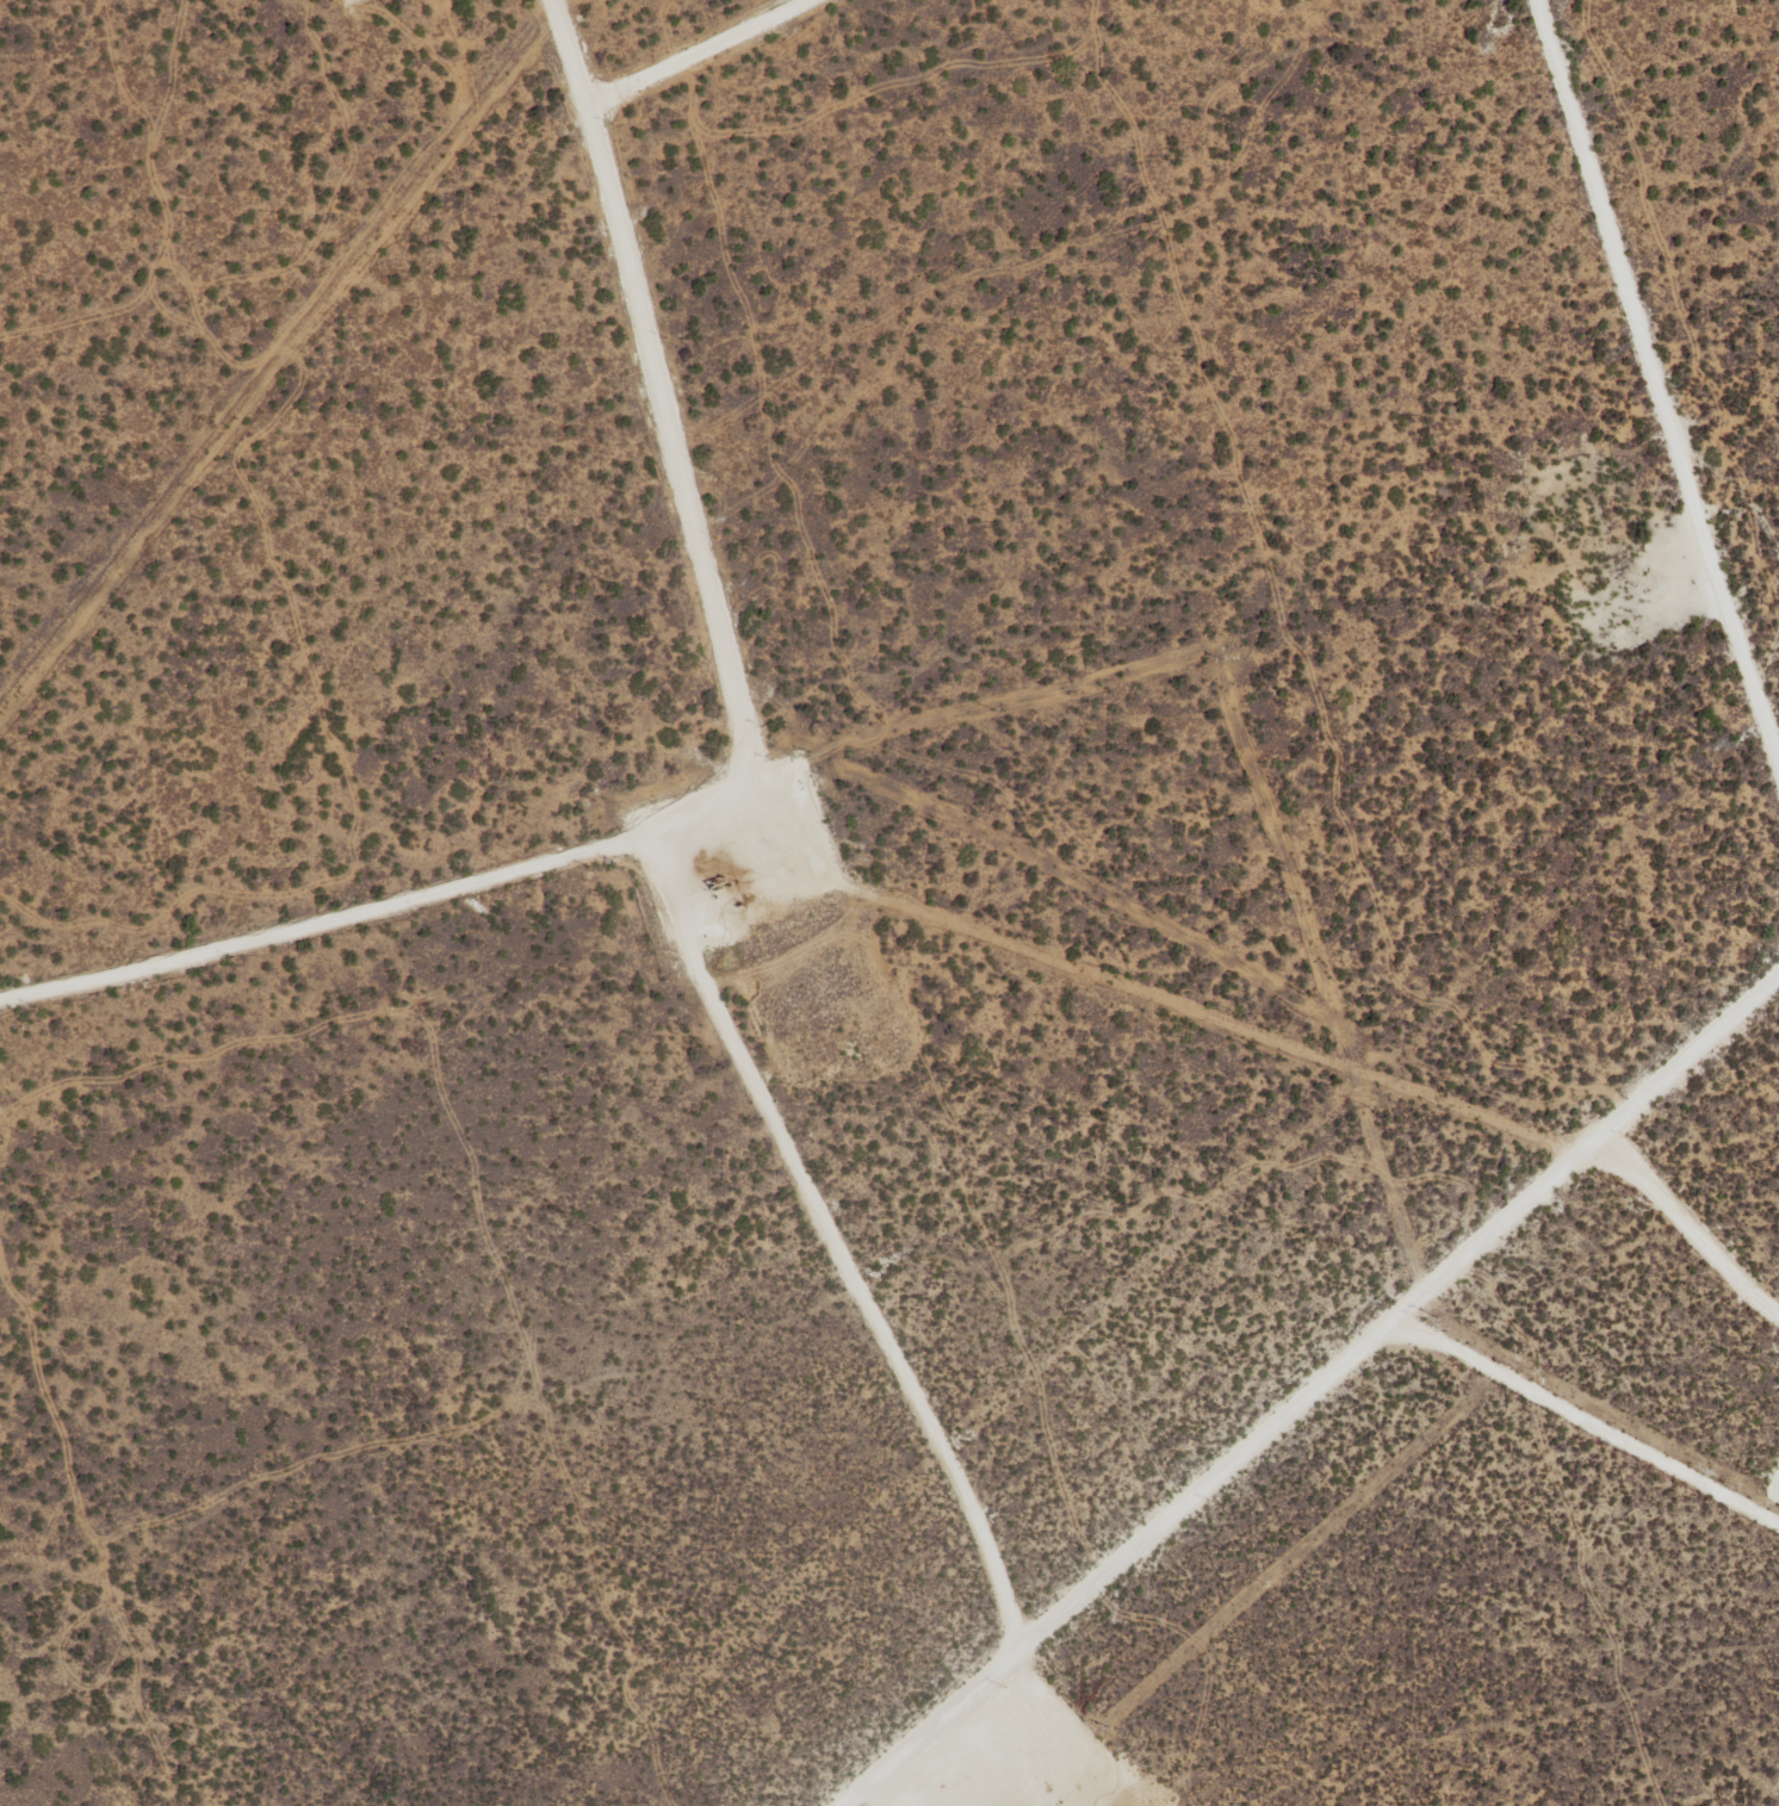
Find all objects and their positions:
road: (1666, 341)
road: (1335, 1411)

